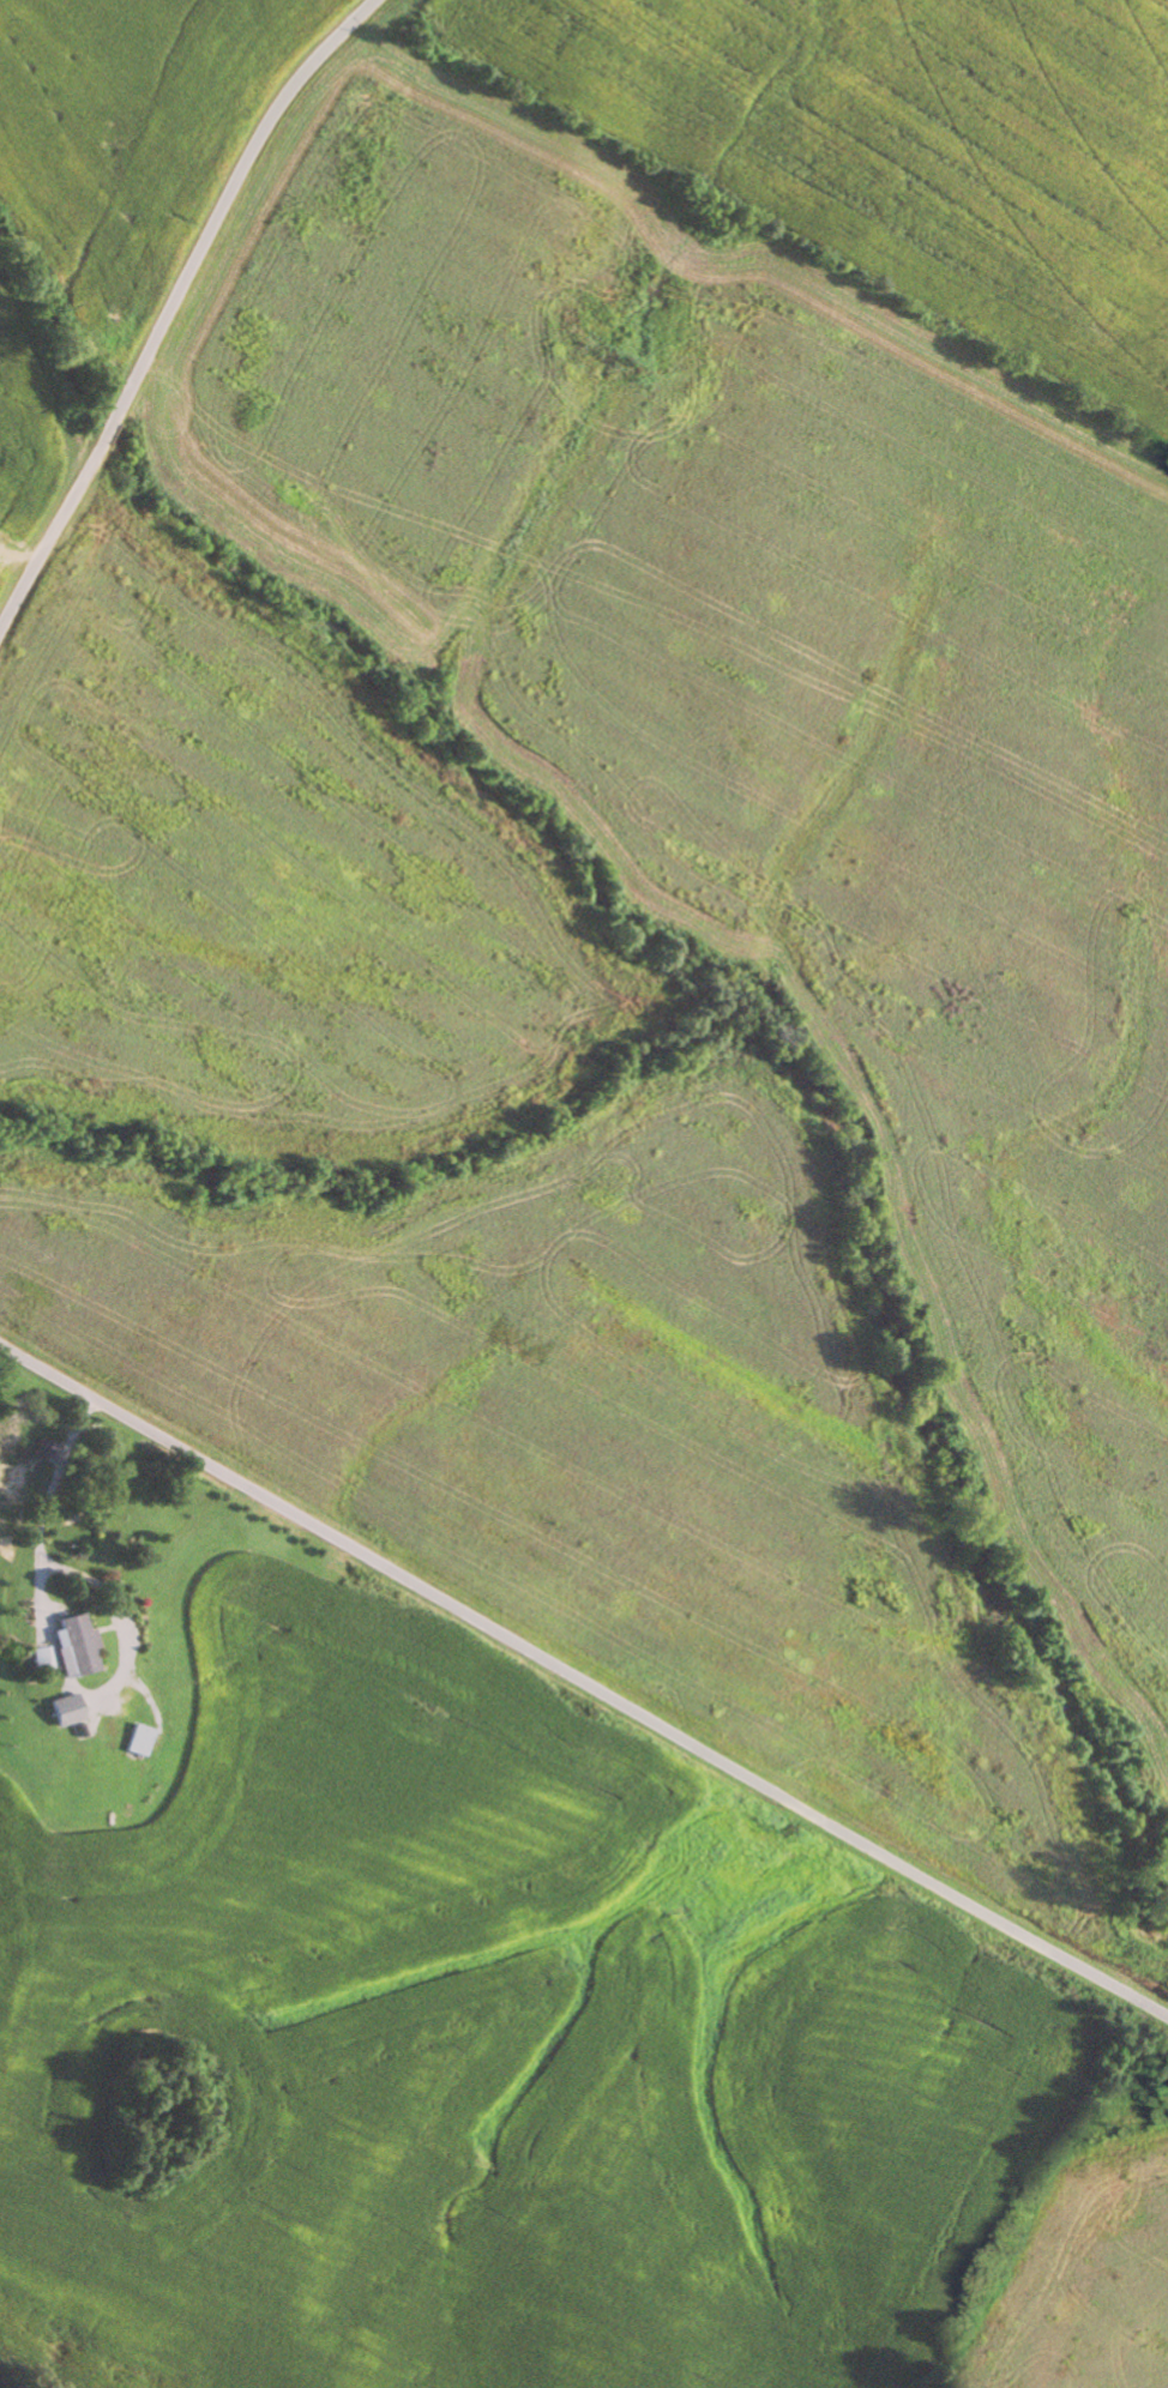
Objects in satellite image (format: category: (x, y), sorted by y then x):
road: (173, 308)
building: (65, 1650)
road: (583, 1678)
building: (67, 1714)
building: (134, 1742)

